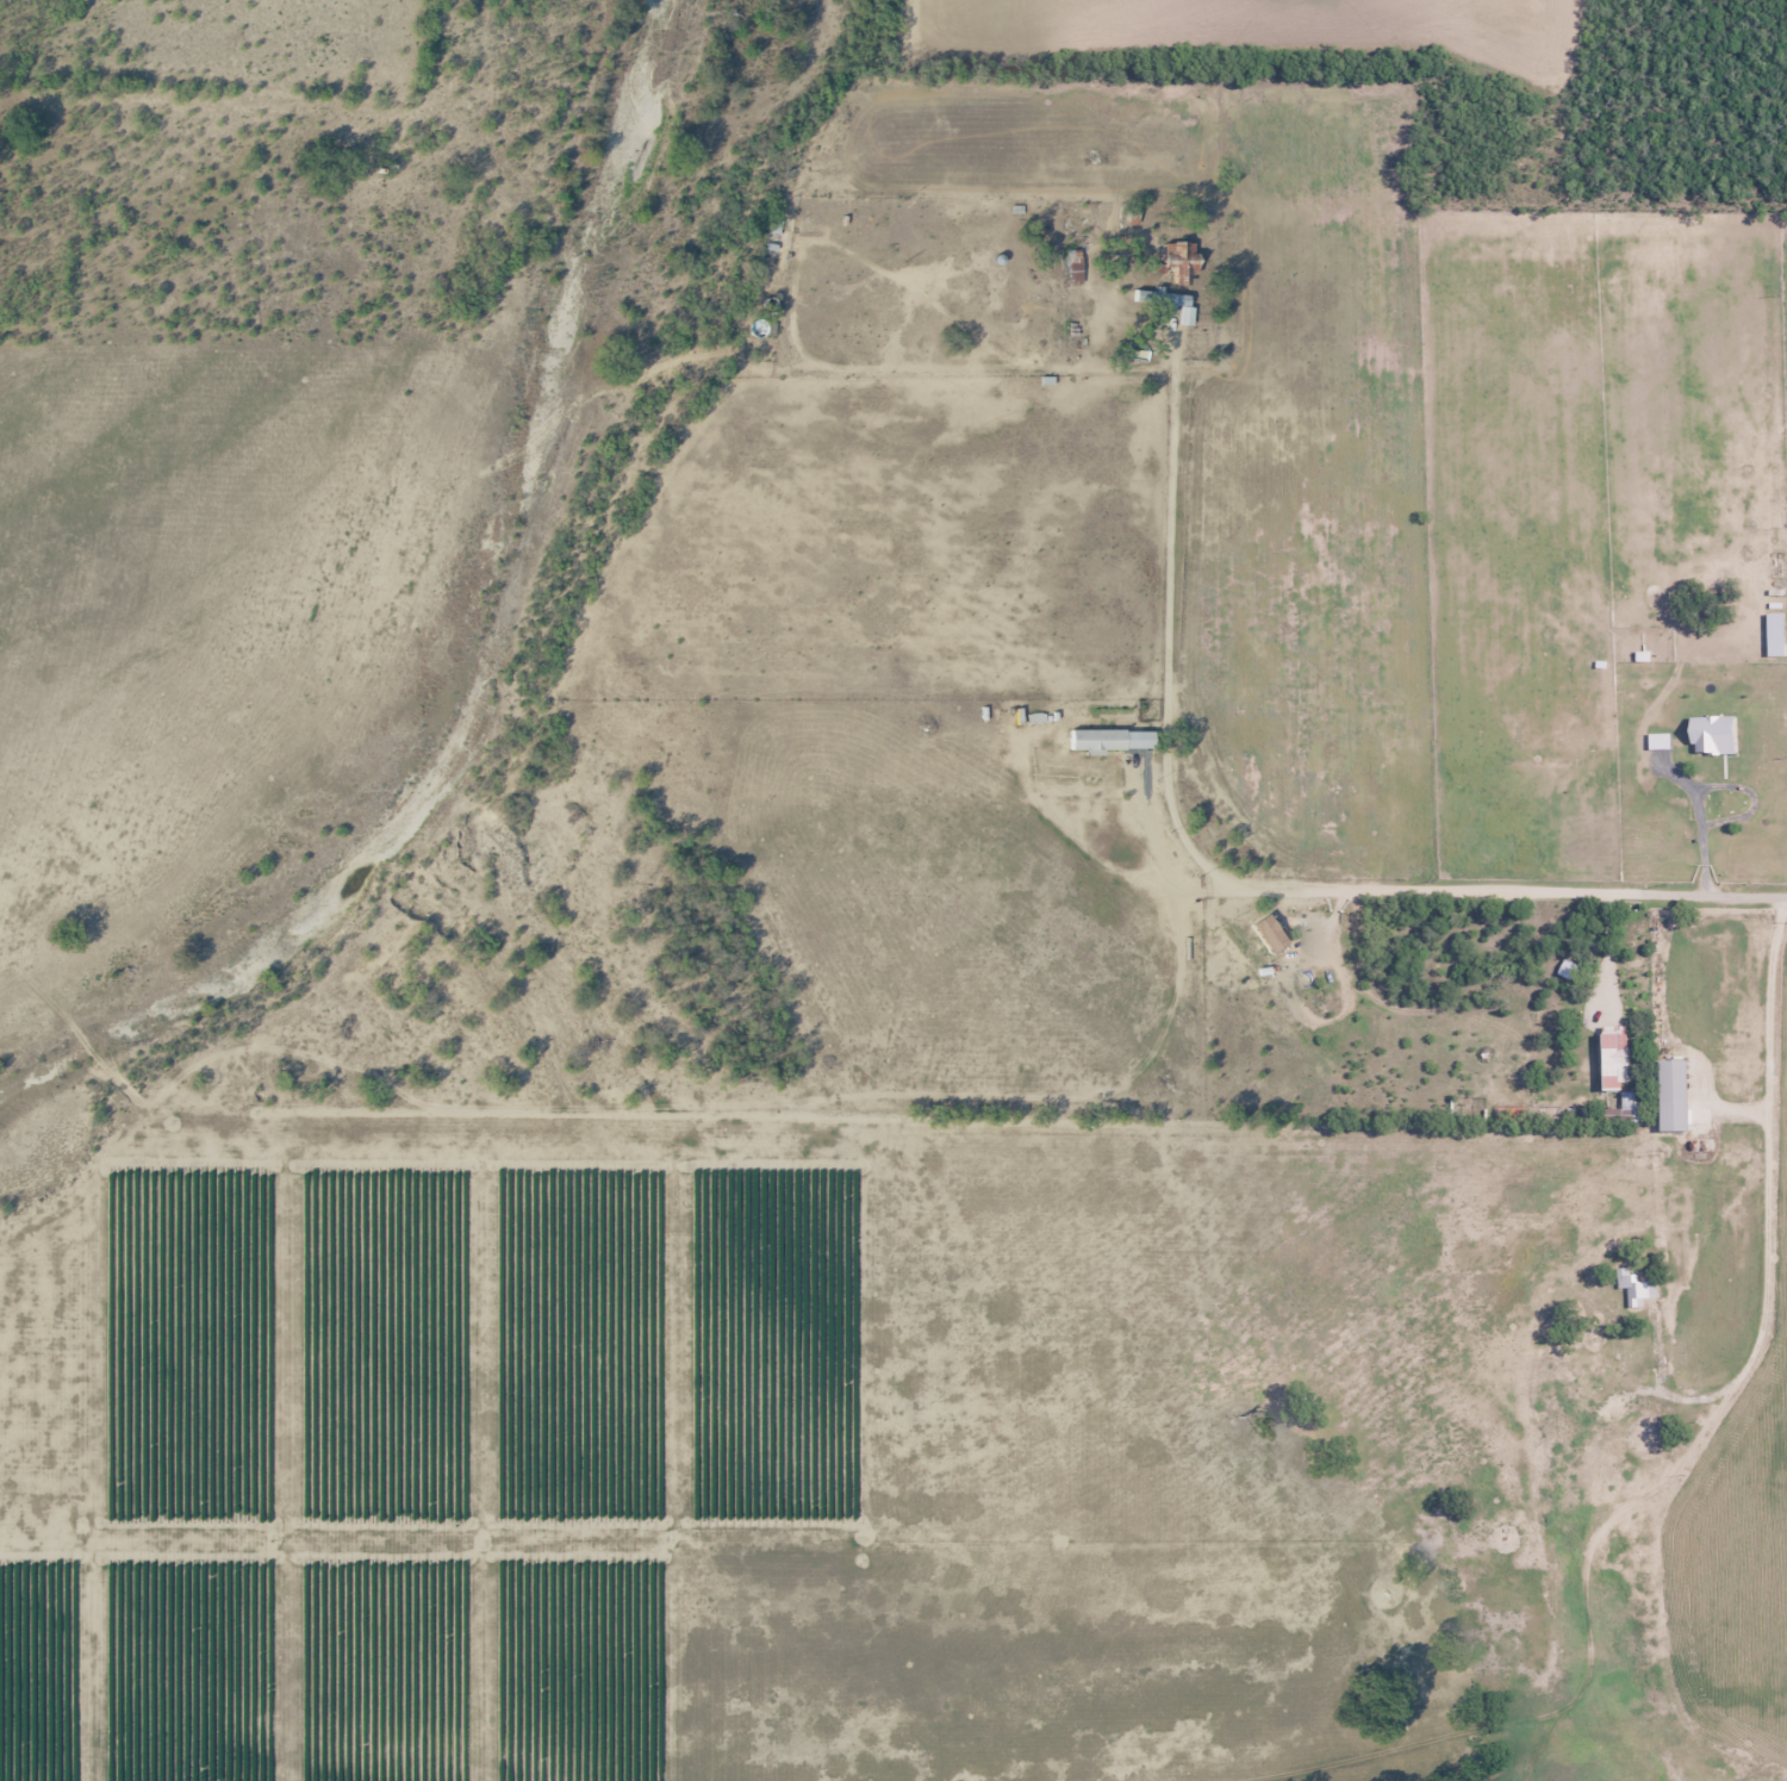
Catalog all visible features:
road: (1170, 715)
building: (1094, 739)
road: (1716, 781)
building: (1748, 799)
road: (1779, 940)
building: (1613, 1057)
building: (1671, 1094)
building: (1629, 1107)
road: (1774, 1146)
building: (1644, 1288)

